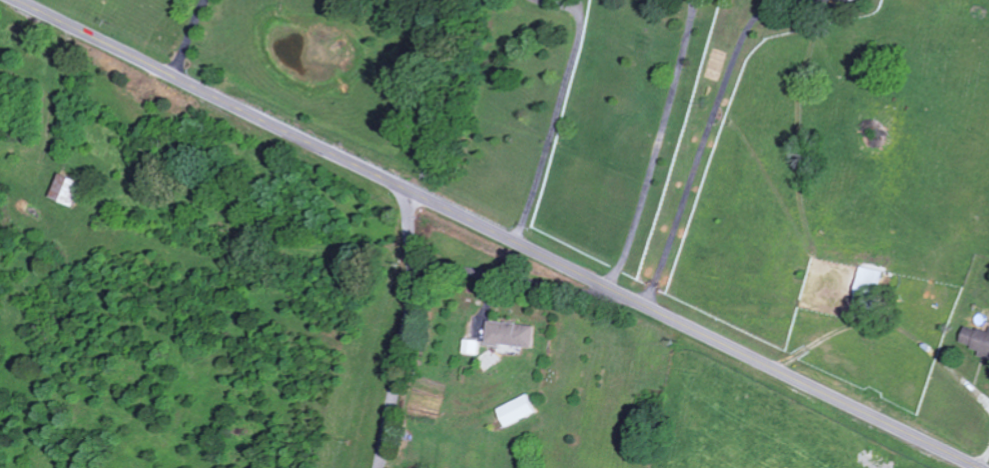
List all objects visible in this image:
road: (18, 0)
road: (188, 38)
road: (557, 108)
road: (709, 118)
road: (655, 145)
building: (68, 187)
road: (497, 233)
road: (518, 279)
road: (408, 331)
building: (509, 334)
building: (974, 340)
building: (469, 346)
building: (513, 411)
road: (983, 458)

